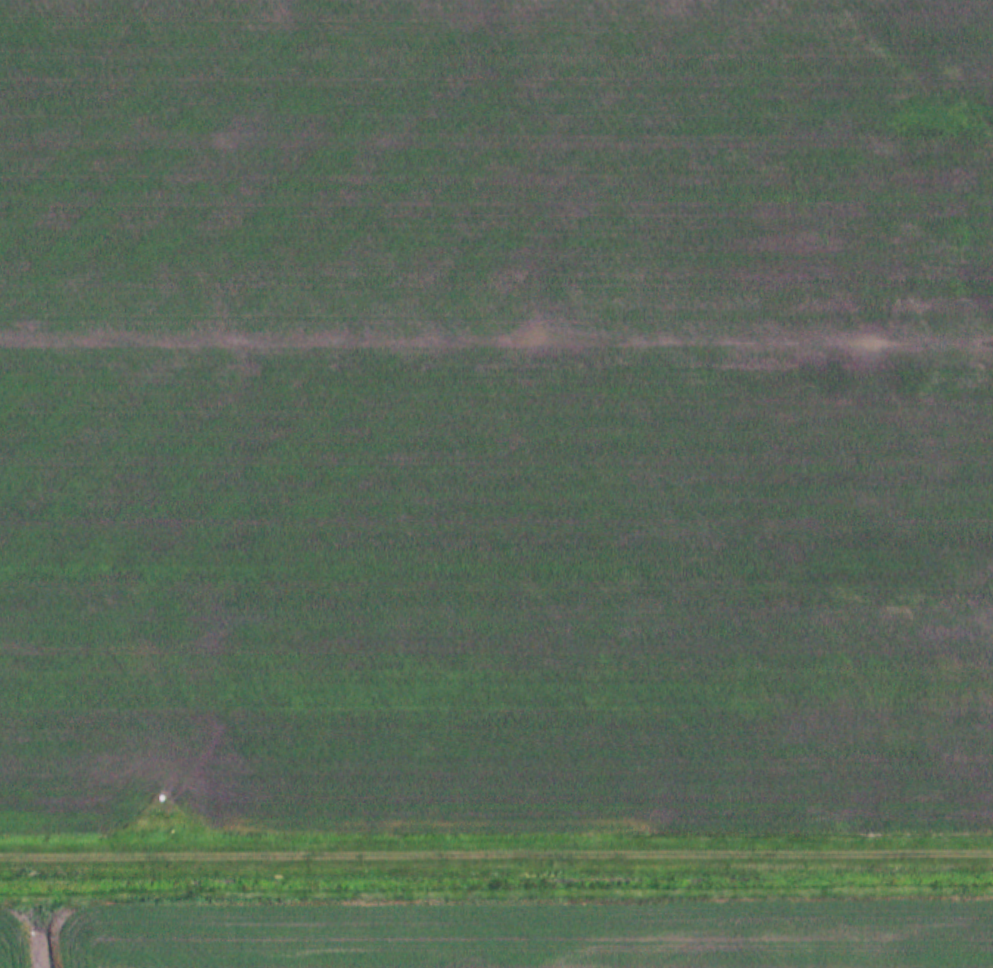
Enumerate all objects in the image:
crop: (496, 408)
road: (496, 859)

